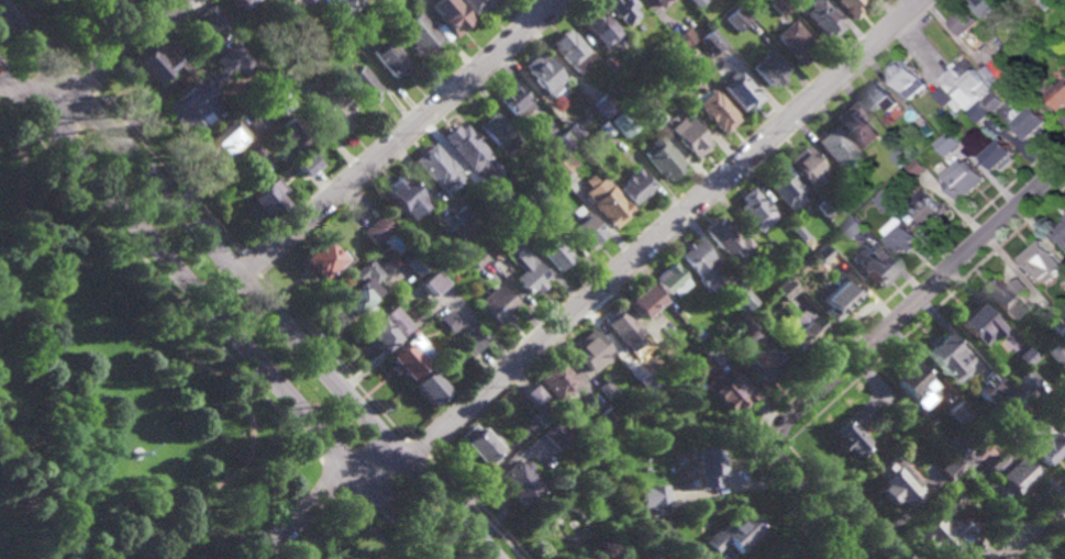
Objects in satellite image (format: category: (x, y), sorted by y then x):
building: (412, 0)
building: (737, 0)
building: (298, 1)
building: (104, 2)
building: (376, 2)
building: (661, 2)
building: (698, 2)
building: (238, 3)
building: (1049, 3)
building: (475, 4)
building: (337, 7)
building: (779, 7)
building: (851, 7)
building: (990, 7)
building: (623, 10)
building: (452, 18)
building: (210, 19)
building: (737, 19)
building: (822, 19)
building: (965, 22)
building: (600, 25)
building: (418, 31)
building: (357, 34)
road: (46, 35)
road: (118, 35)
building: (686, 37)
building: (712, 41)
building: (794, 41)
building: (1056, 45)
building: (572, 49)
building: (695, 51)
road: (109, 58)
building: (390, 59)
building: (610, 63)
building: (152, 65)
building: (1008, 66)
building: (768, 68)
building: (1029, 72)
building: (544, 75)
building: (994, 76)
building: (285, 77)
building: (908, 78)
road: (86, 79)
building: (669, 79)
building: (362, 85)
building: (965, 86)
building: (740, 90)
building: (204, 91)
building: (880, 96)
building: (279, 97)
building: (1061, 97)
building: (645, 100)
building: (513, 101)
building: (997, 101)
building: (604, 105)
building: (331, 109)
building: (718, 111)
building: (983, 112)
building: (613, 122)
building: (1035, 122)
building: (858, 126)
building: (603, 128)
building: (575, 131)
building: (931, 132)
building: (498, 133)
building: (689, 135)
building: (291, 137)
building: (953, 139)
building: (221, 143)
building: (564, 143)
building: (465, 146)
building: (836, 148)
road: (384, 150)
building: (257, 152)
building: (1003, 156)
building: (663, 158)
building: (903, 158)
building: (306, 164)
building: (536, 164)
building: (563, 165)
building: (807, 166)
building: (435, 167)
building: (920, 168)
road: (167, 172)
building: (966, 179)
building: (635, 186)
building: (784, 188)
building: (496, 197)
building: (265, 198)
building: (403, 198)
building: (540, 199)
building: (606, 201)
building: (890, 201)
building: (823, 208)
building: (932, 209)
building: (754, 210)
building: (463, 216)
building: (498, 220)
building: (584, 227)
building: (856, 227)
building: (377, 230)
road: (662, 230)
building: (797, 231)
building: (455, 234)
building: (1061, 235)
building: (905, 237)
building: (726, 238)
building: (812, 243)
building: (769, 248)
building: (553, 251)
building: (822, 254)
building: (697, 258)
building: (476, 259)
building: (318, 261)
building: (412, 261)
building: (1044, 262)
road: (251, 267)
building: (877, 267)
building: (739, 268)
building: (525, 270)
building: (363, 273)
road: (160, 279)
building: (672, 281)
road: (246, 282)
building: (786, 290)
road: (925, 291)
building: (741, 297)
building: (1008, 298)
building: (352, 300)
building: (841, 300)
building: (644, 302)
building: (495, 304)
road: (429, 312)
road: (219, 314)
building: (681, 315)
building: (974, 324)
building: (1056, 324)
building: (451, 325)
building: (623, 326)
building: (745, 327)
building: (384, 331)
building: (801, 331)
building: (469, 342)
building: (662, 344)
building: (590, 351)
building: (1055, 354)
building: (945, 358)
building: (1023, 358)
road: (333, 359)
building: (406, 359)
building: (706, 365)
building: (759, 366)
road: (210, 371)
building: (663, 372)
building: (556, 381)
building: (1024, 382)
building: (909, 383)
building: (429, 384)
building: (984, 388)
building: (607, 390)
park: (118, 394)
building: (730, 394)
building: (531, 396)
building: (1005, 405)
building: (1063, 410)
building: (543, 414)
building: (861, 414)
building: (959, 416)
building: (1062, 416)
building: (609, 418)
building: (1063, 424)
building: (556, 436)
building: (848, 439)
building: (1040, 443)
building: (477, 449)
building: (951, 449)
road: (417, 450)
building: (703, 468)
building: (948, 471)
building: (1006, 473)
road: (330, 478)
building: (897, 481)
building: (519, 484)
road: (800, 489)
building: (655, 496)
road: (322, 497)
road: (474, 508)
road: (35, 511)
building: (651, 514)
building: (663, 526)
road: (367, 528)
building: (734, 530)
road: (1033, 530)
building: (944, 533)
road: (322, 534)
road: (806, 539)
building: (1062, 554)
road: (848, 555)
road: (857, 555)
building: (617, 558)

